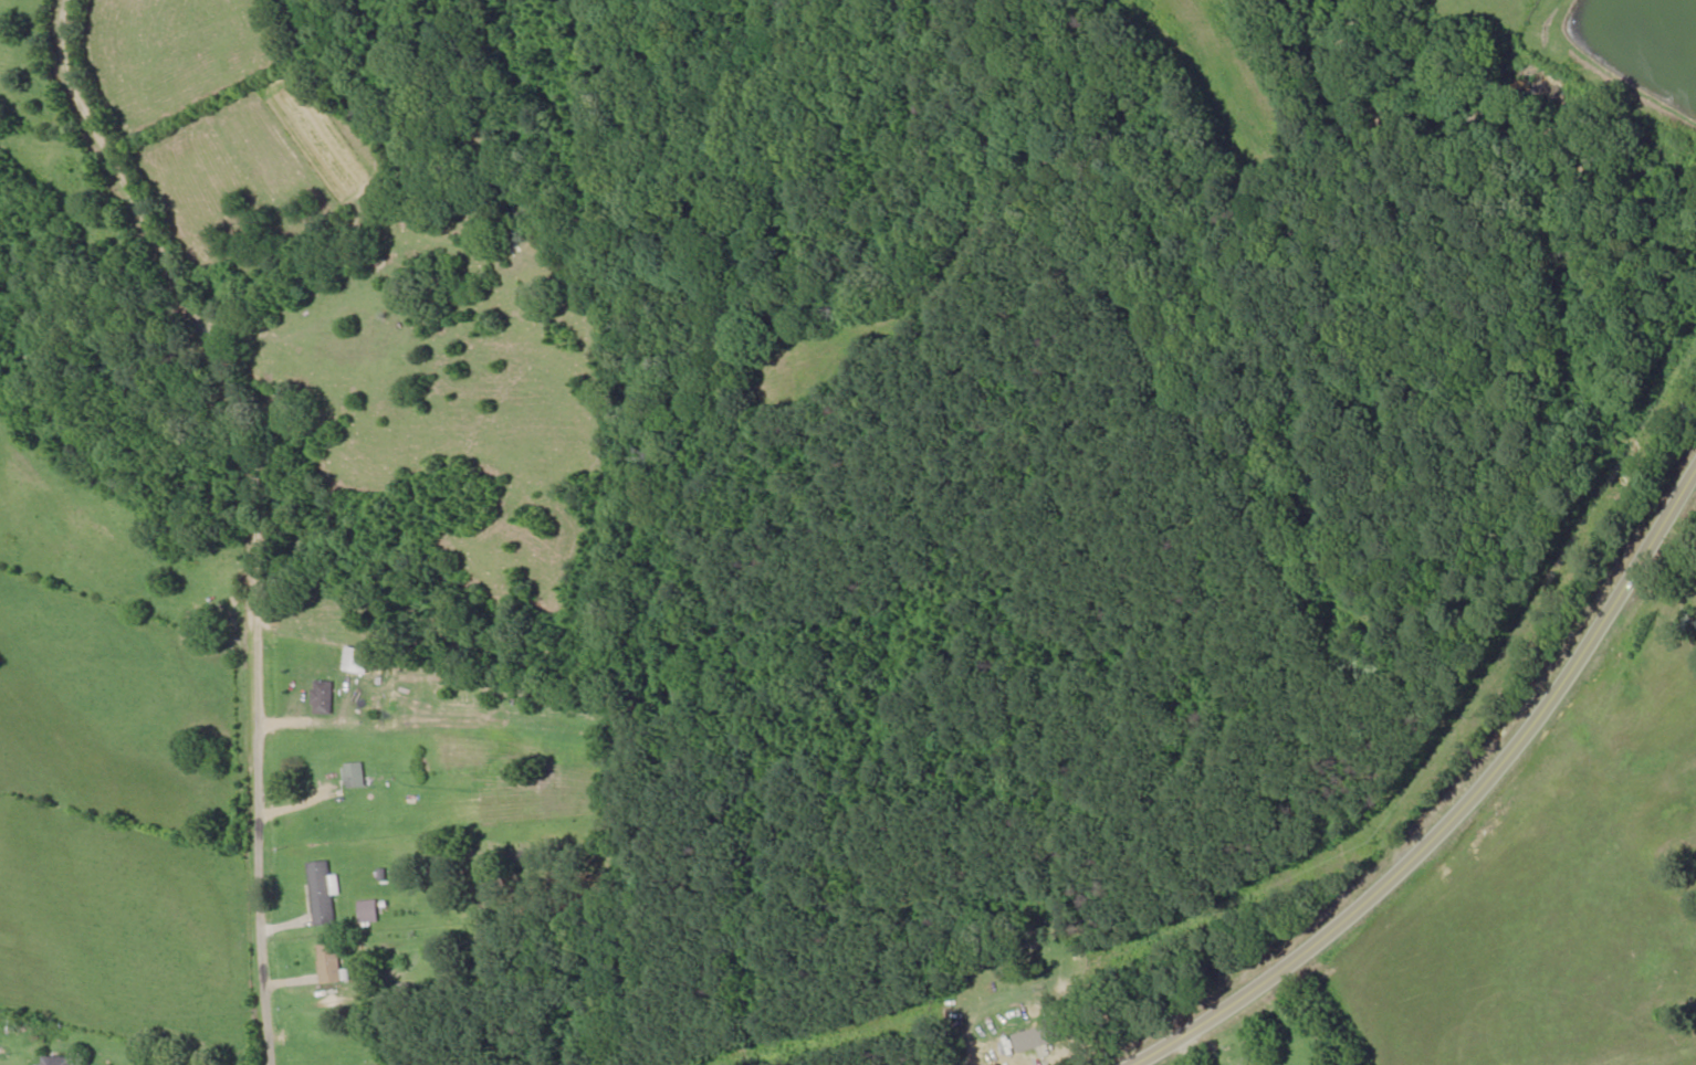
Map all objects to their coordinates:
road: (257, 510)
building: (357, 661)
building: (323, 698)
building: (355, 776)
road: (1459, 811)
building: (321, 894)
building: (368, 913)
building: (329, 964)
building: (55, 1061)

